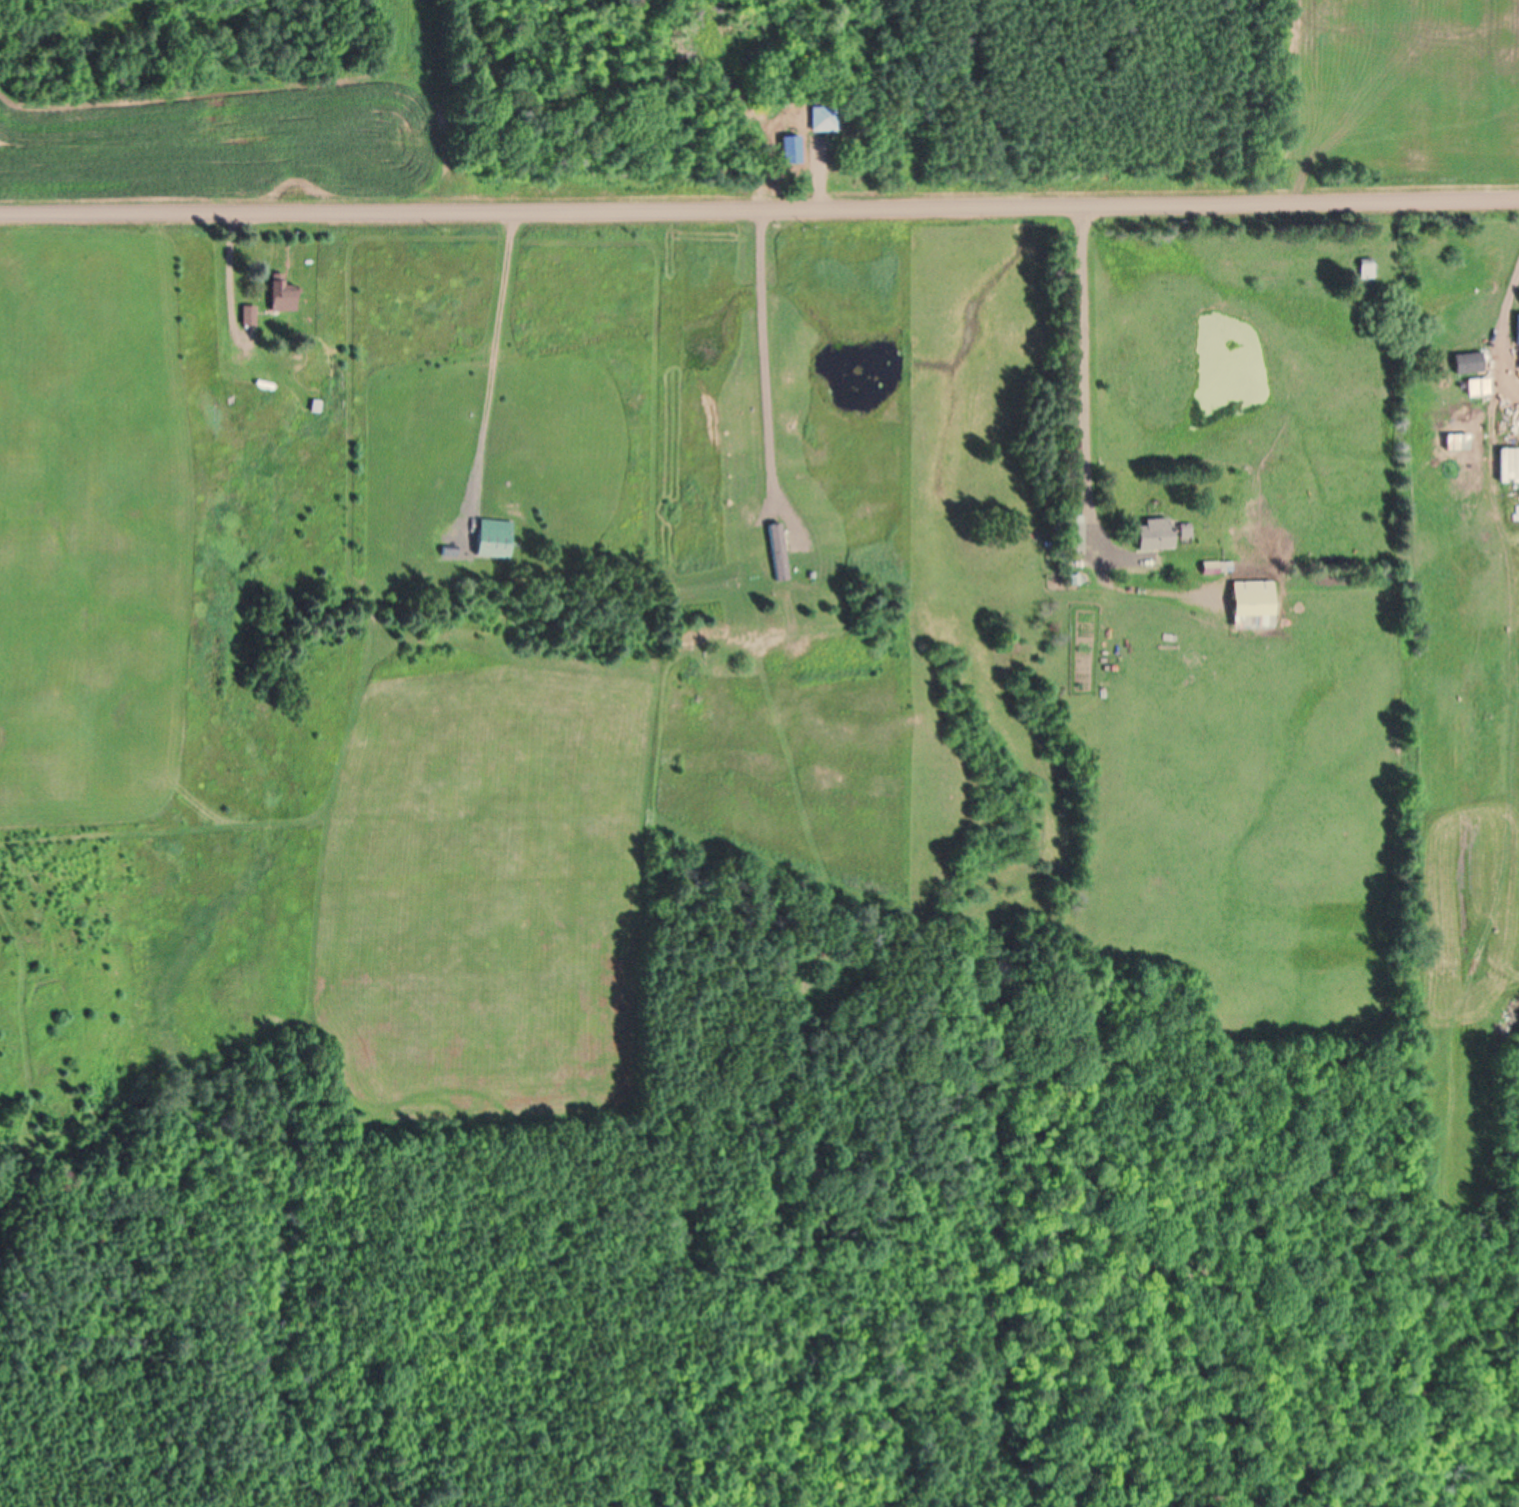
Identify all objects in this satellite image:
crop: (1405, 96)
building: (823, 122)
road: (759, 214)
building: (1366, 271)
building: (281, 297)
building: (248, 319)
building: (1517, 333)
building: (1468, 366)
building: (1478, 390)
building: (1183, 533)
building: (1154, 537)
building: (496, 540)

